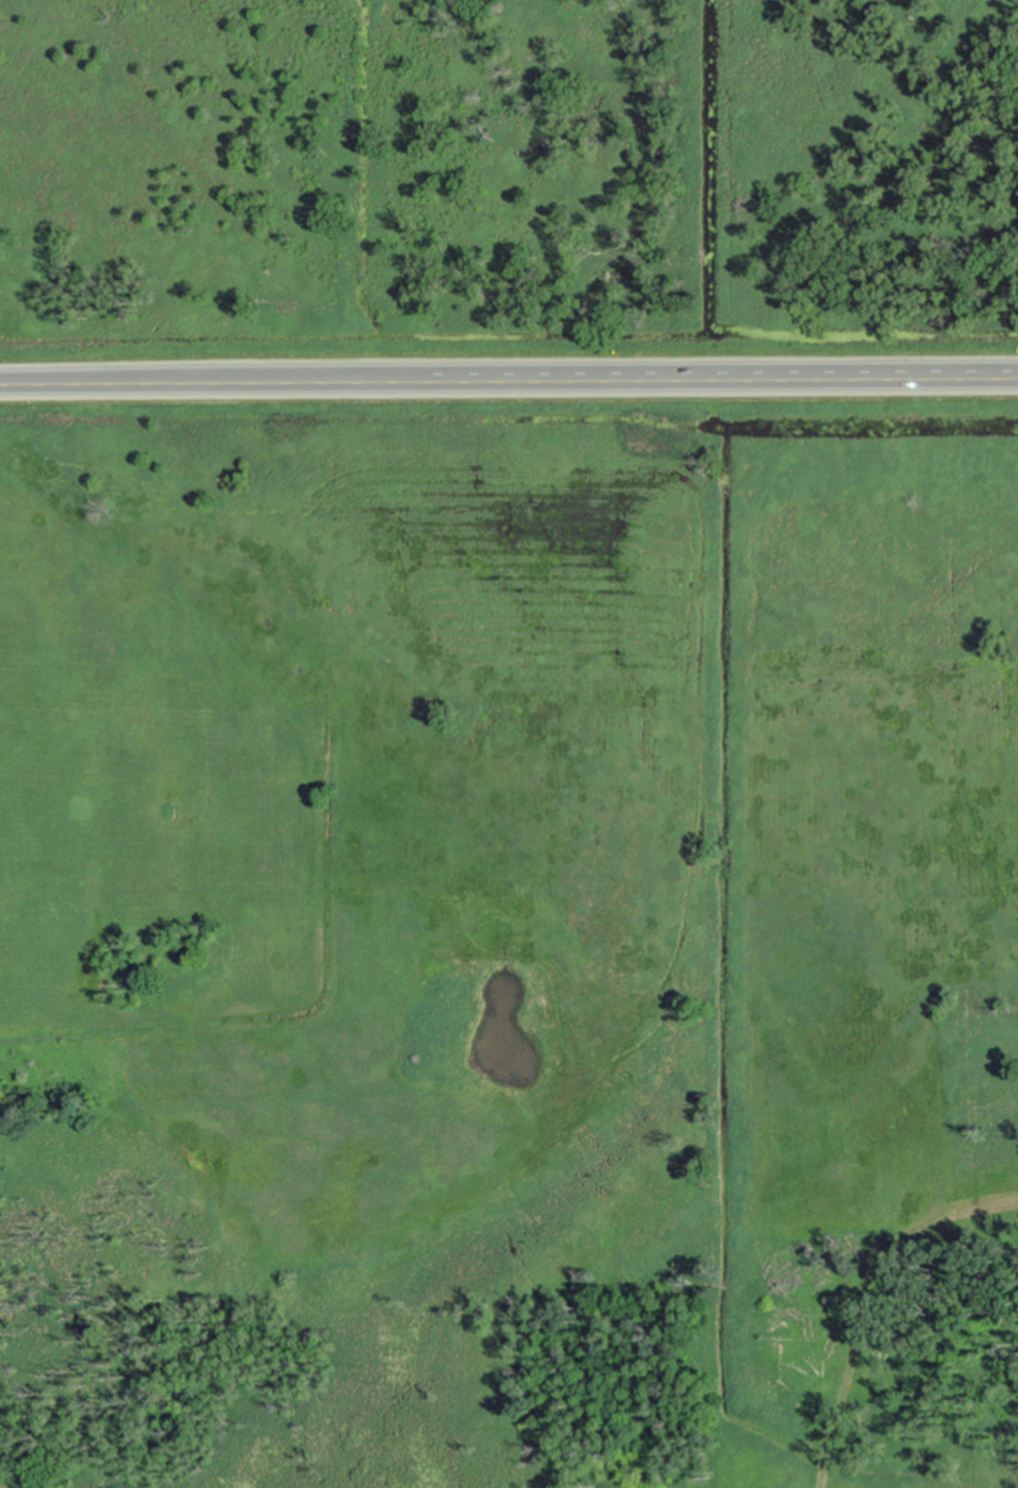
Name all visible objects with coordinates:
road: (509, 383)
building: (823, 1466)

